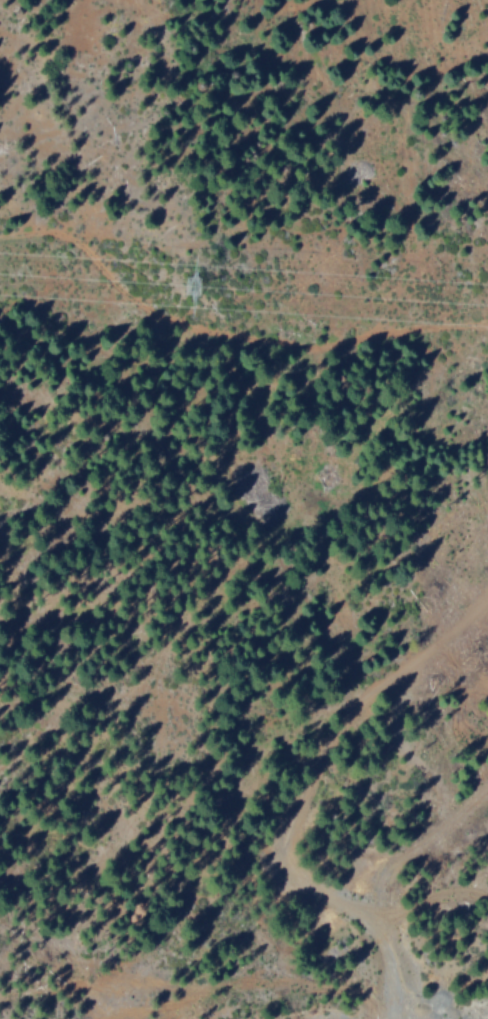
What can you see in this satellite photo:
power tower: (197, 282)

